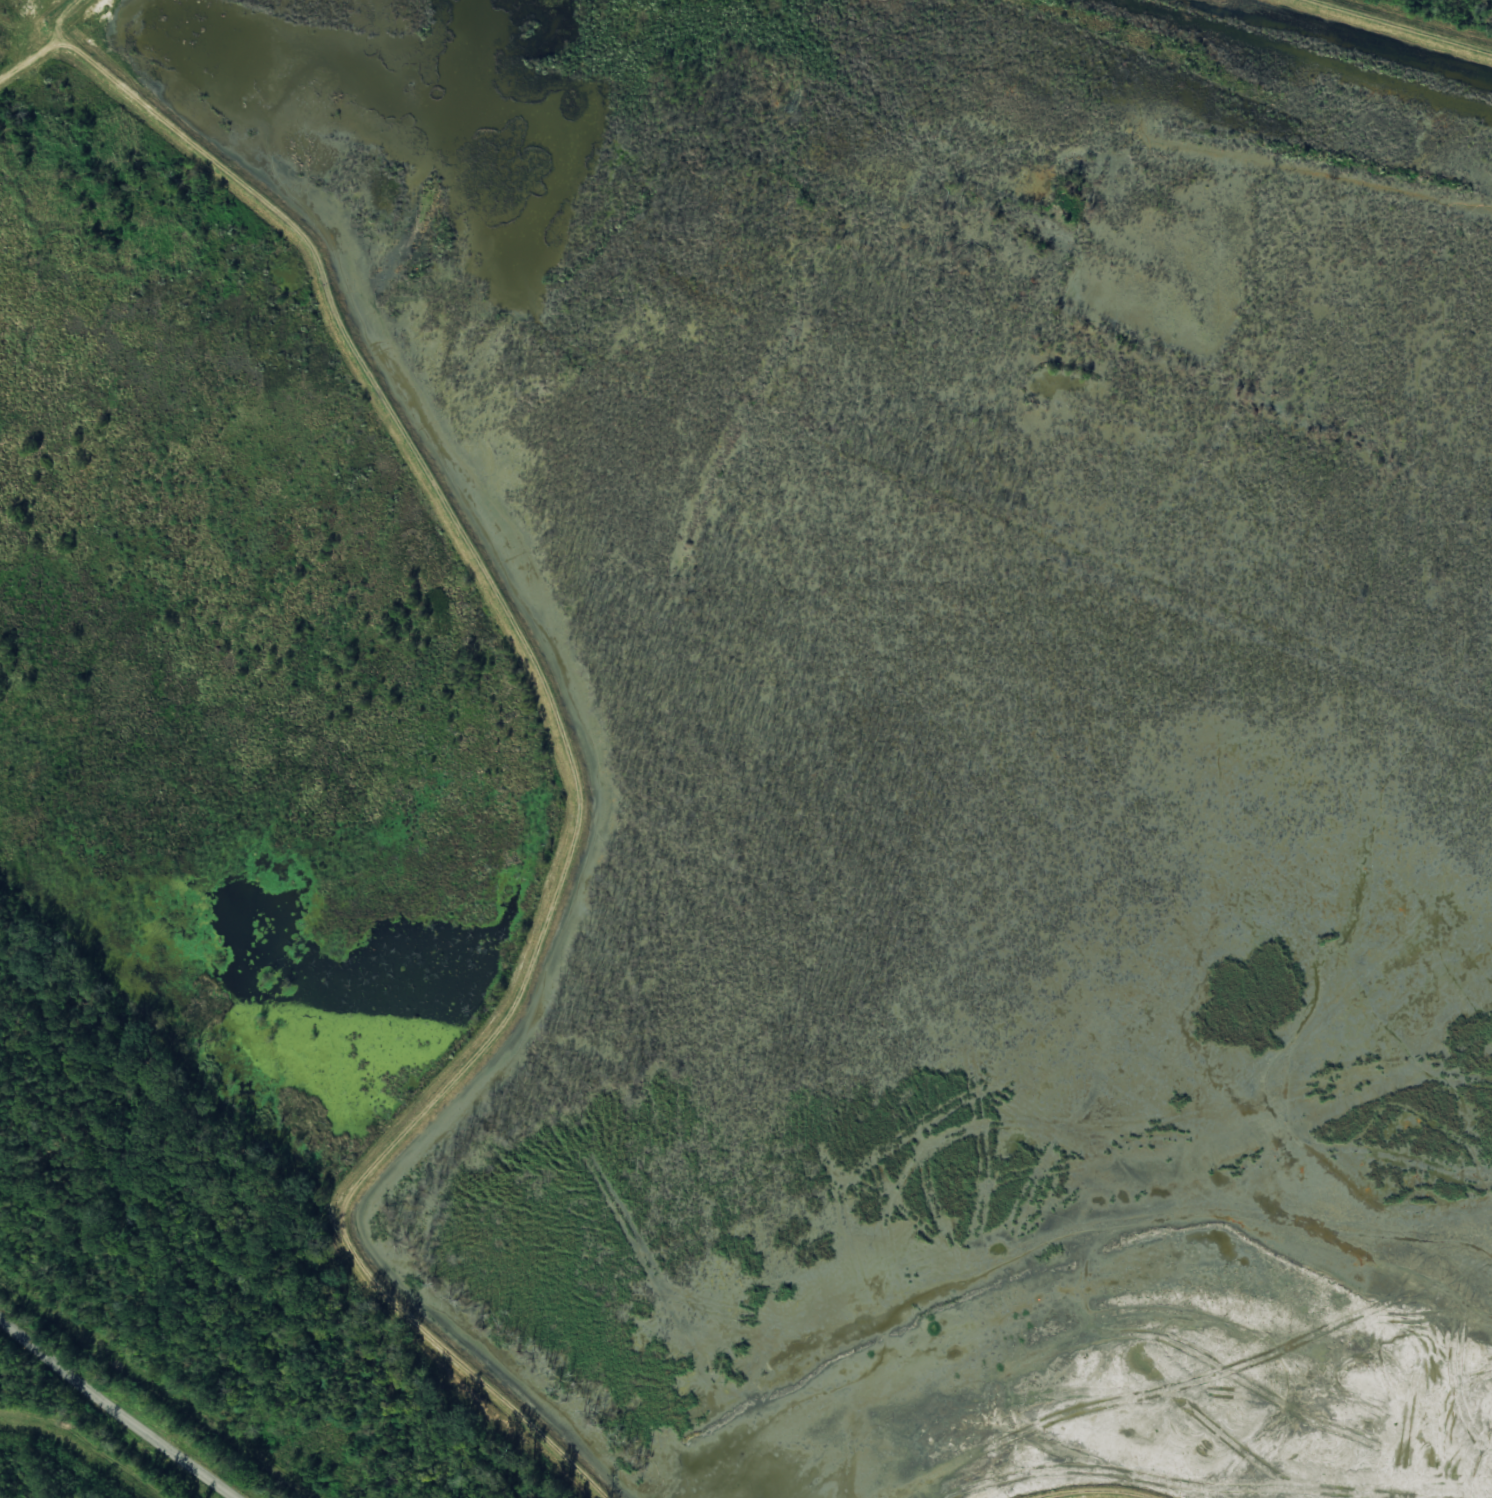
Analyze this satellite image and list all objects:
road: (118, 1410)

